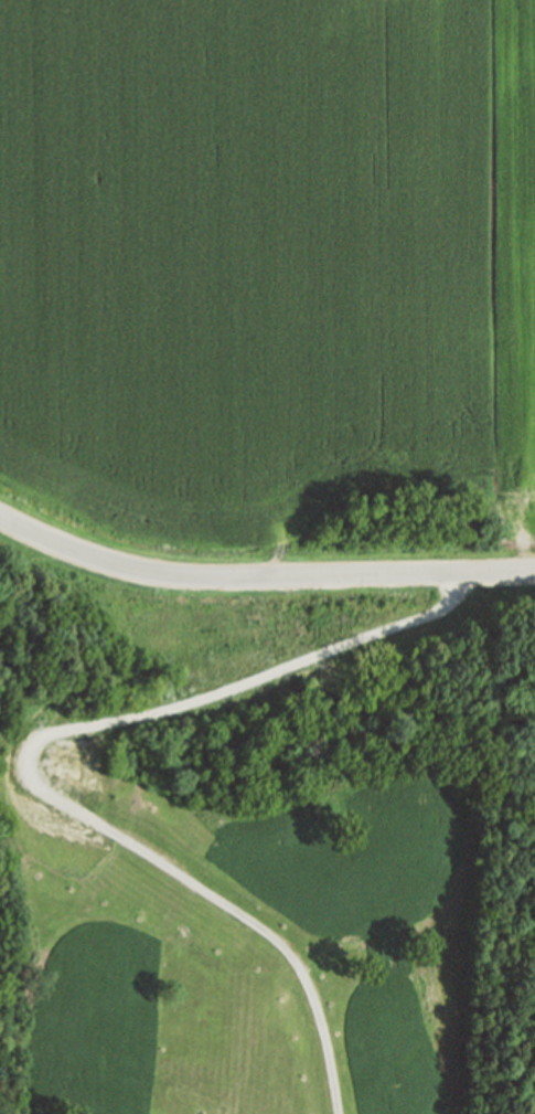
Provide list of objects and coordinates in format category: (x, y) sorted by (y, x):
road: (261, 577)
road: (267, 691)

